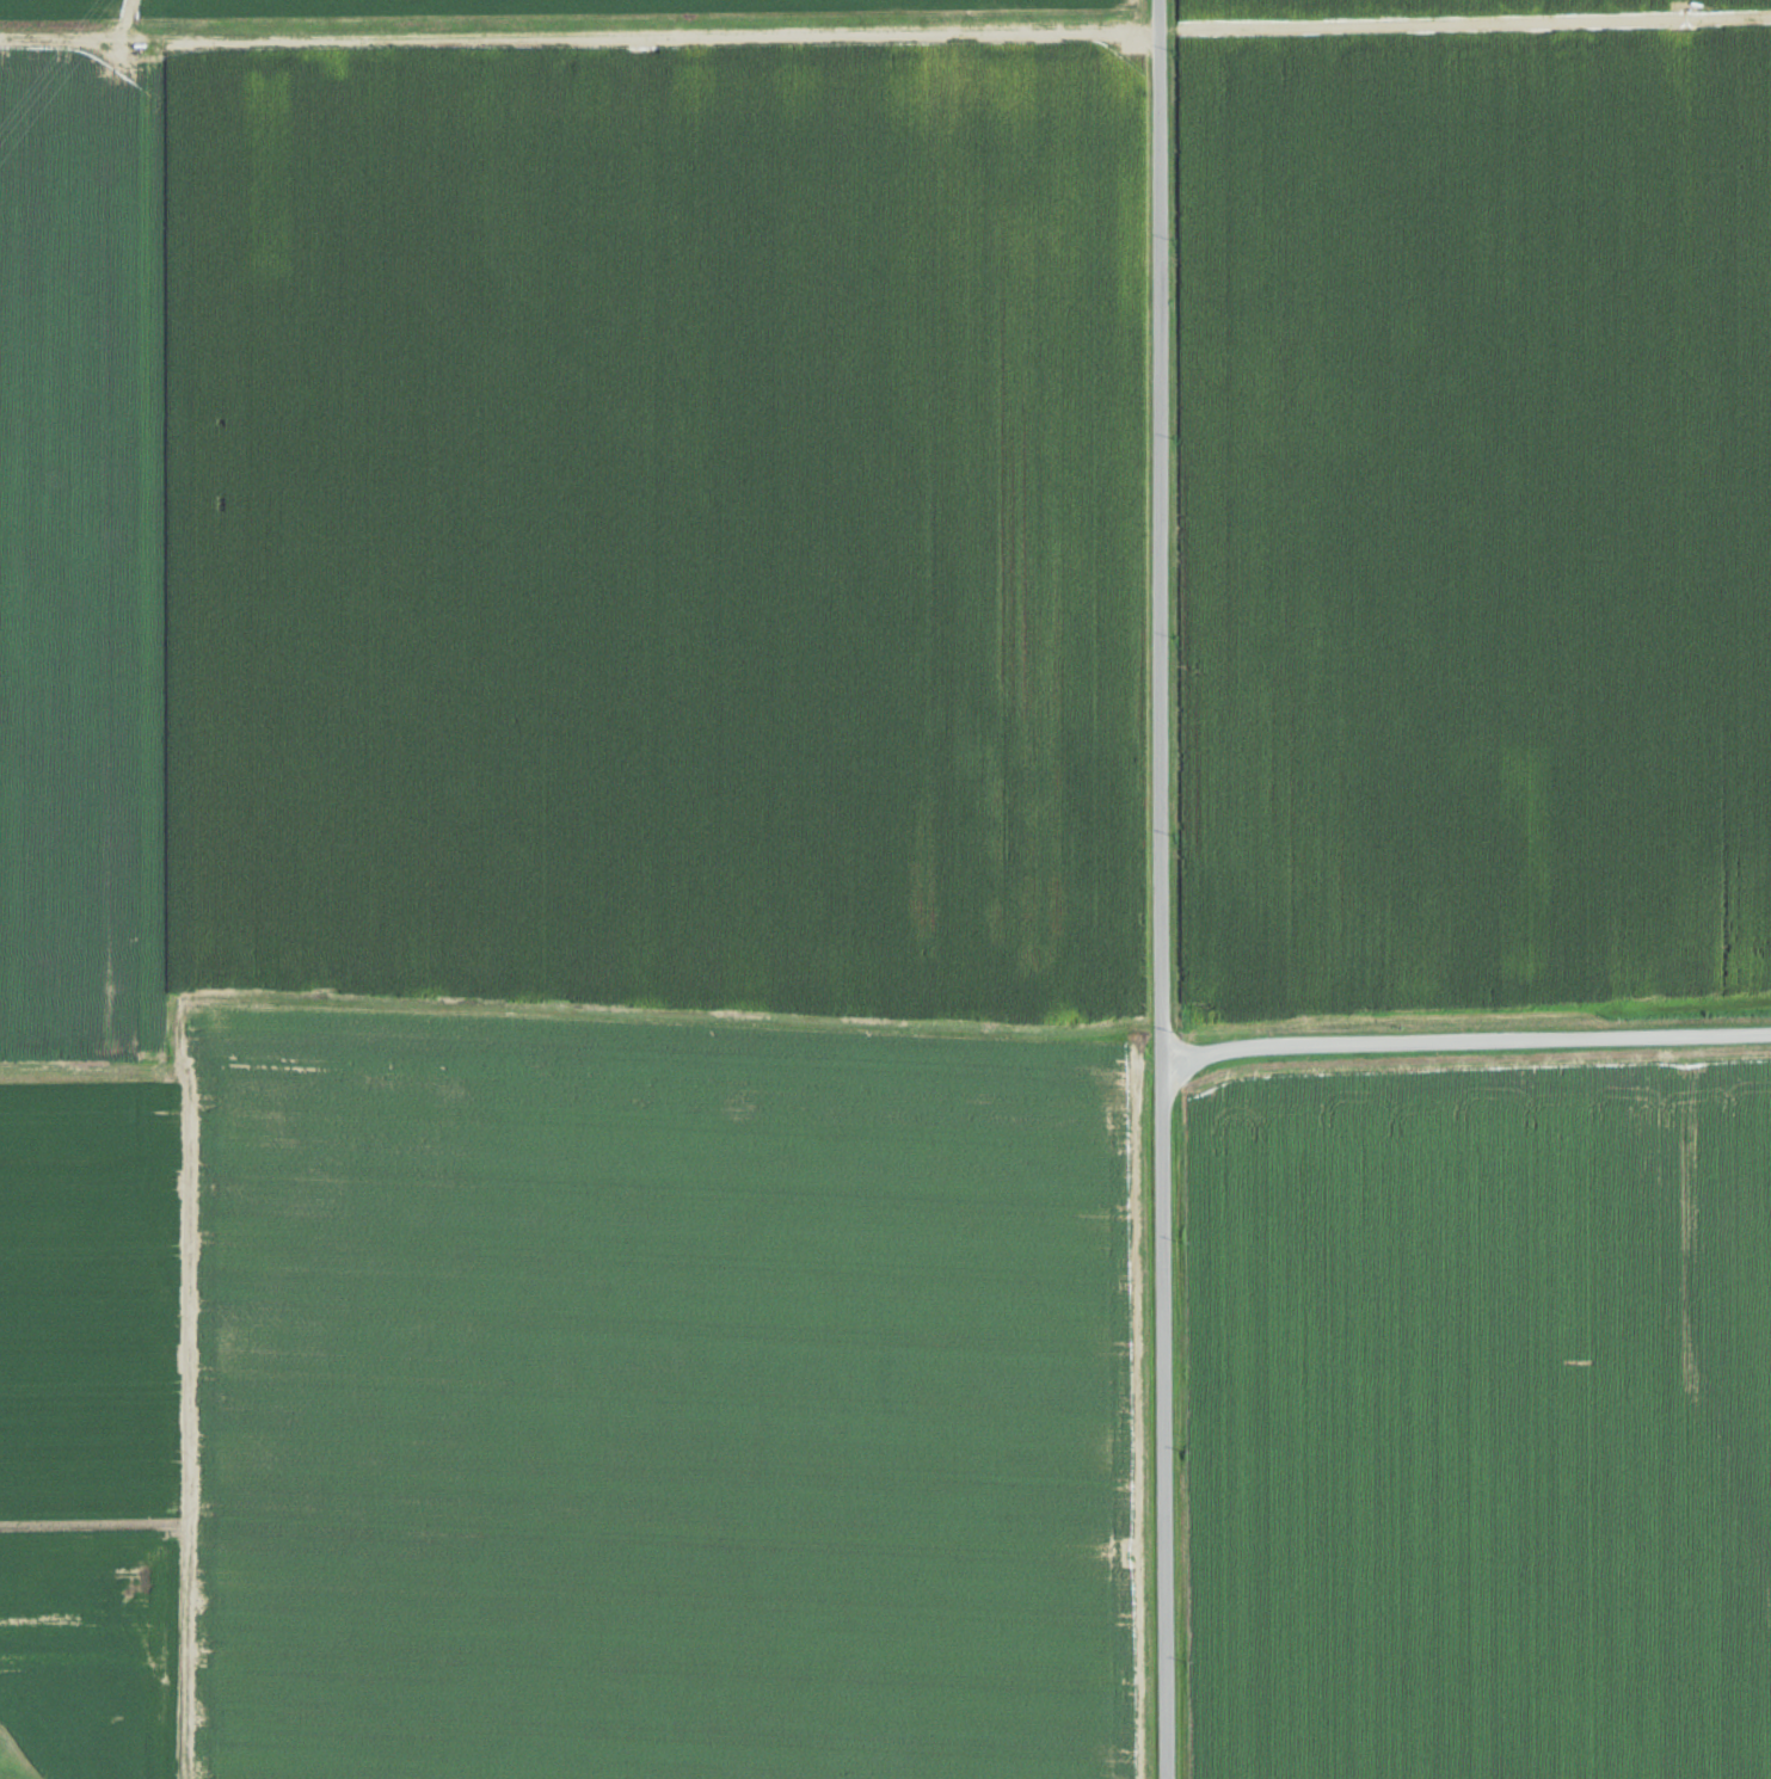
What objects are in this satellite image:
road: (1157, 889)
road: (1463, 1039)

